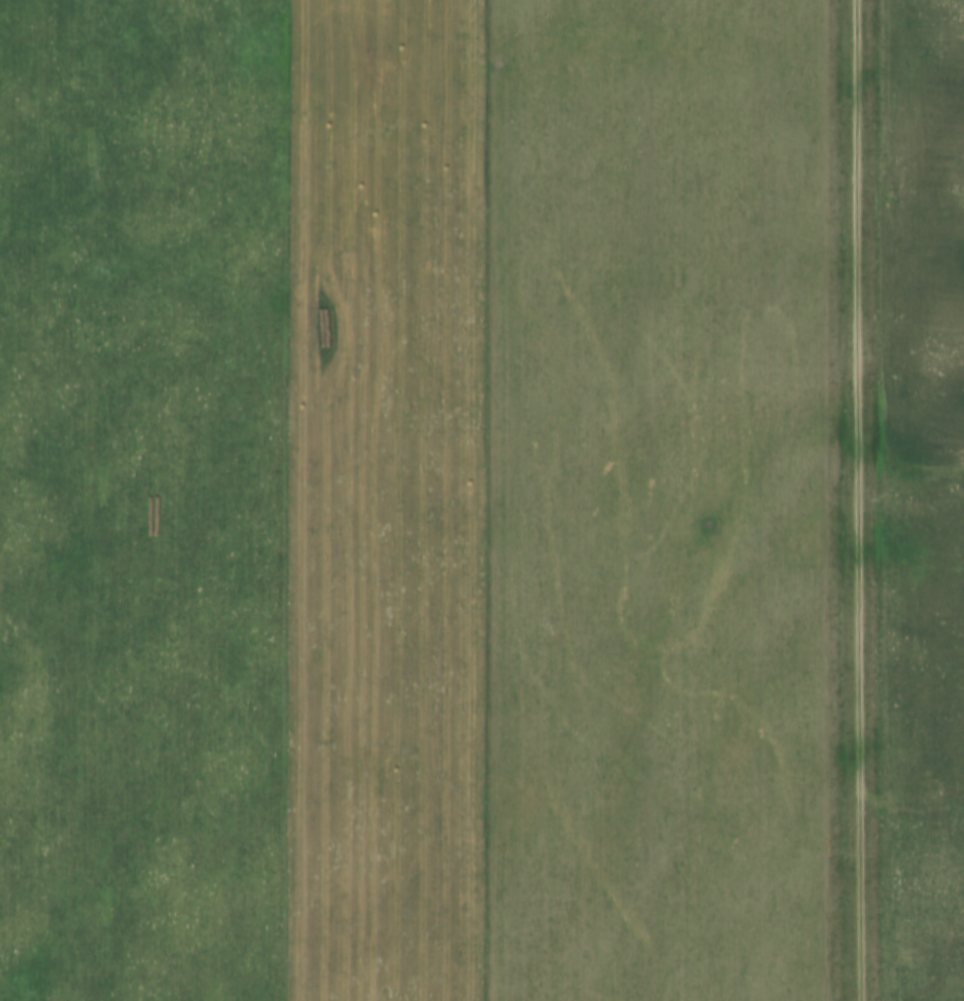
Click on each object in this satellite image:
road: (860, 500)

